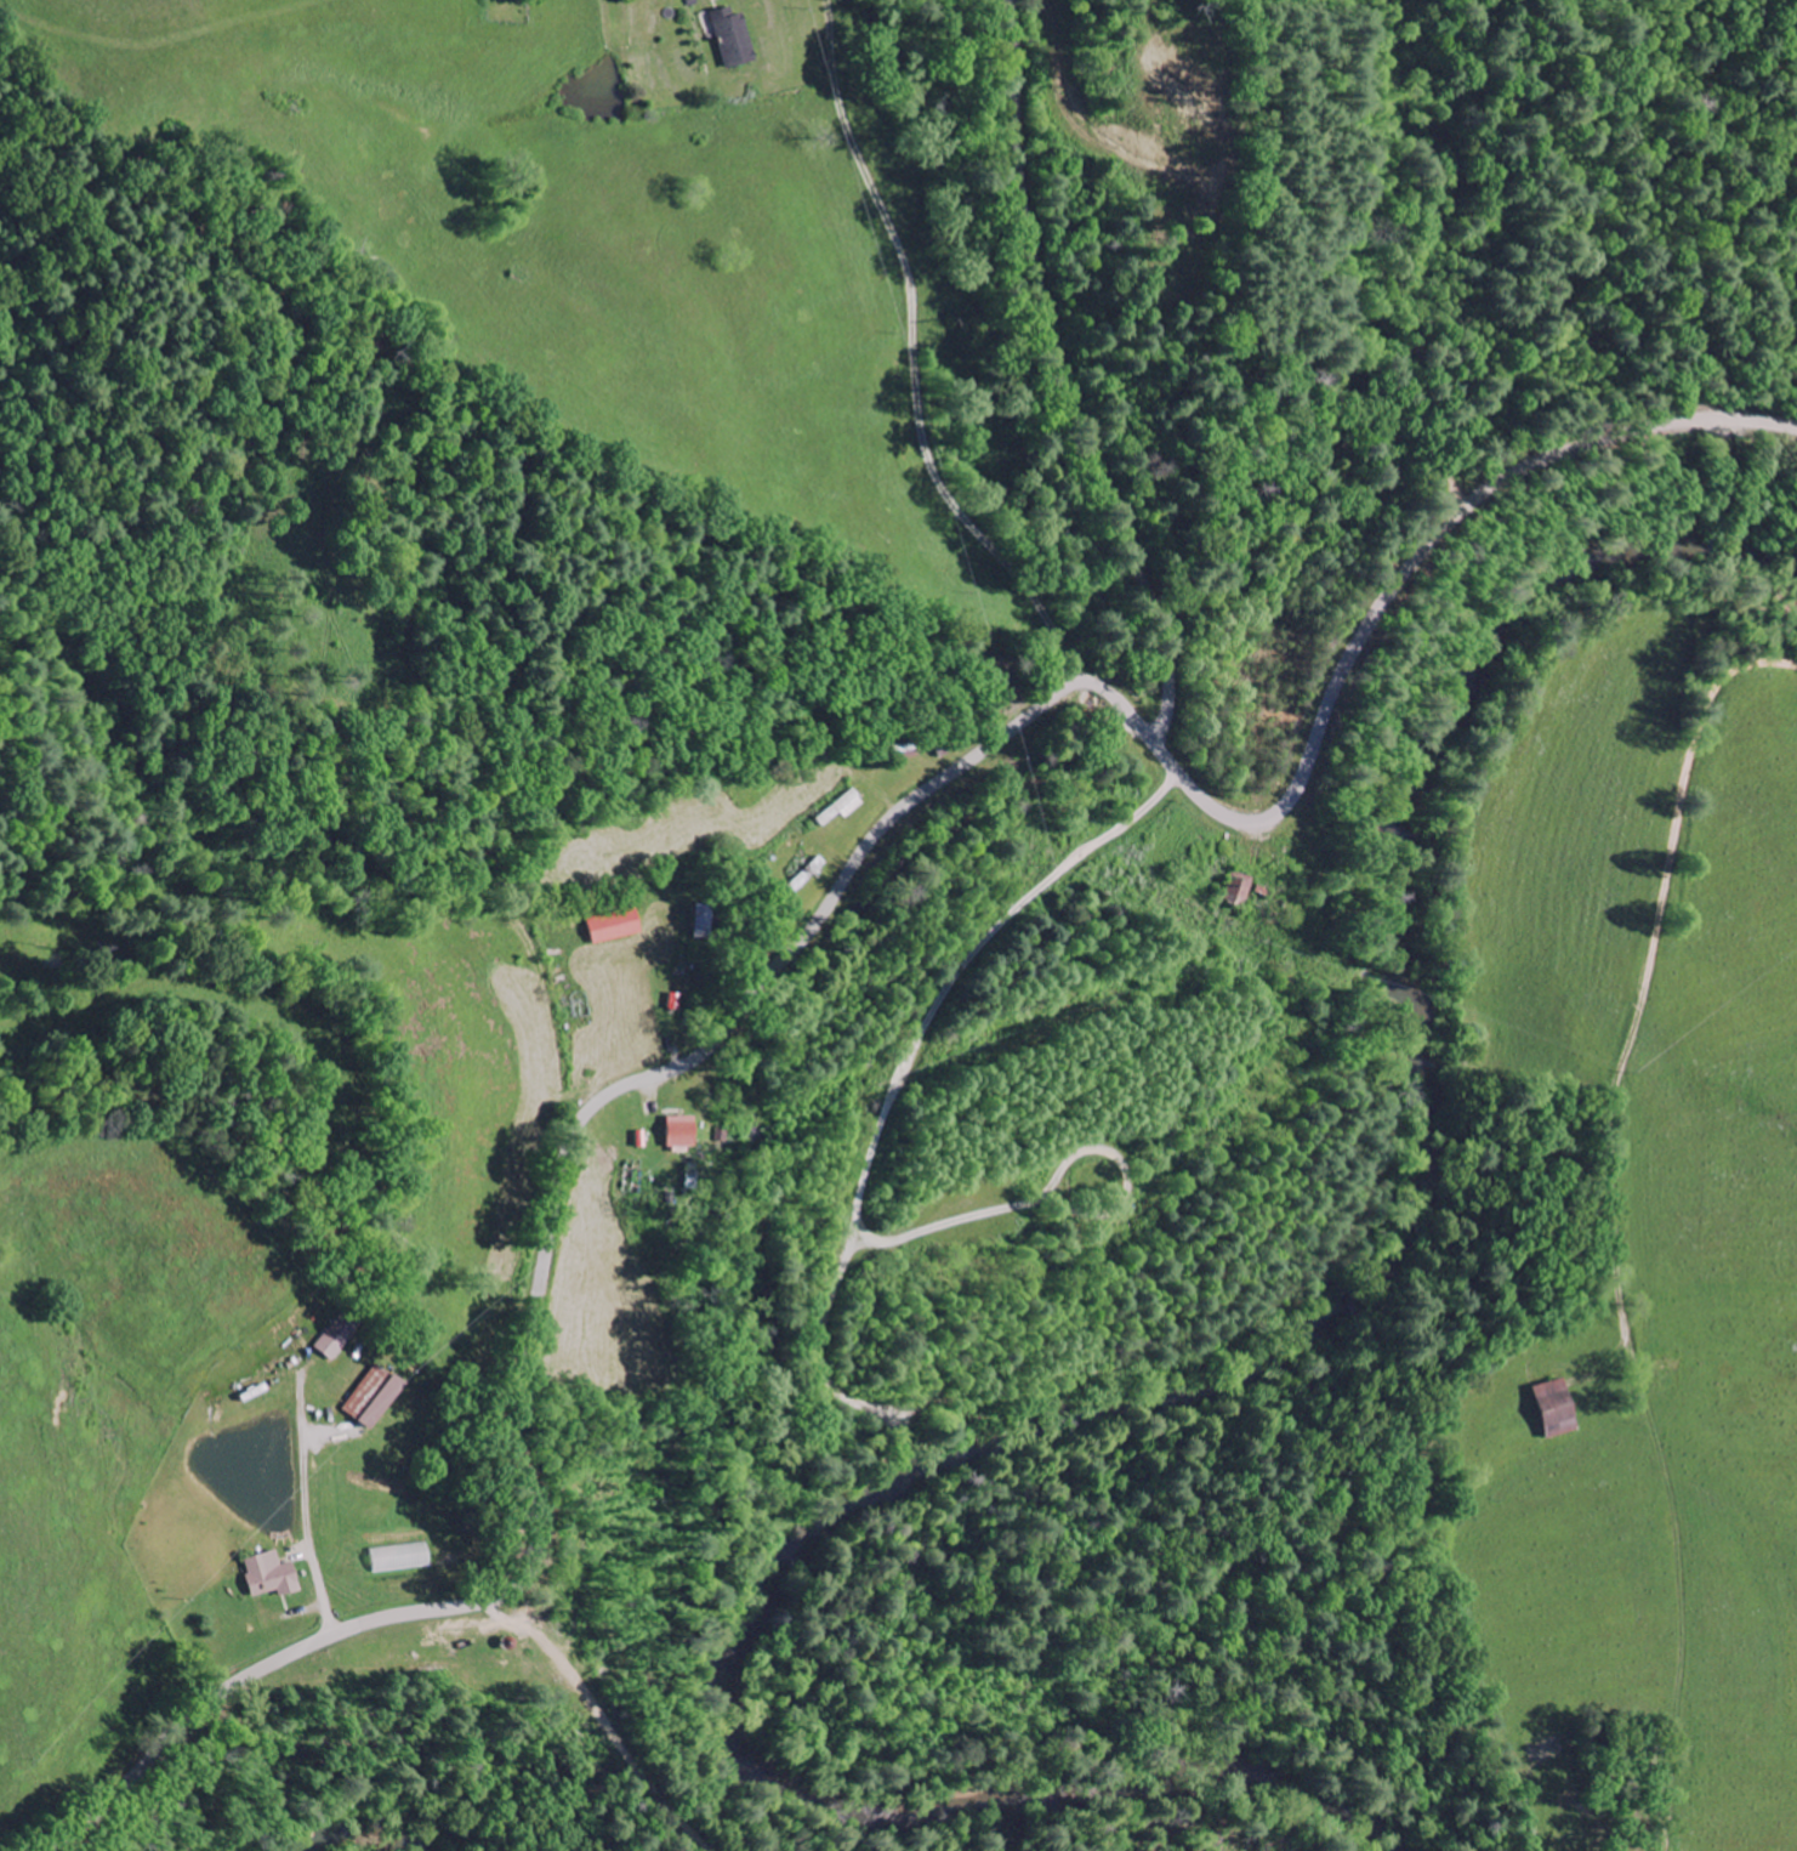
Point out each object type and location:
building: (732, 39)
road: (1064, 379)
building: (803, 876)
road: (808, 924)
building: (612, 929)
road: (904, 1068)
building: (676, 1136)
road: (1116, 1163)
road: (945, 1221)
building: (336, 1341)
building: (371, 1398)
river: (1126, 1406)
building: (1552, 1410)
building: (398, 1558)
building: (267, 1577)
river: (379, 1836)

